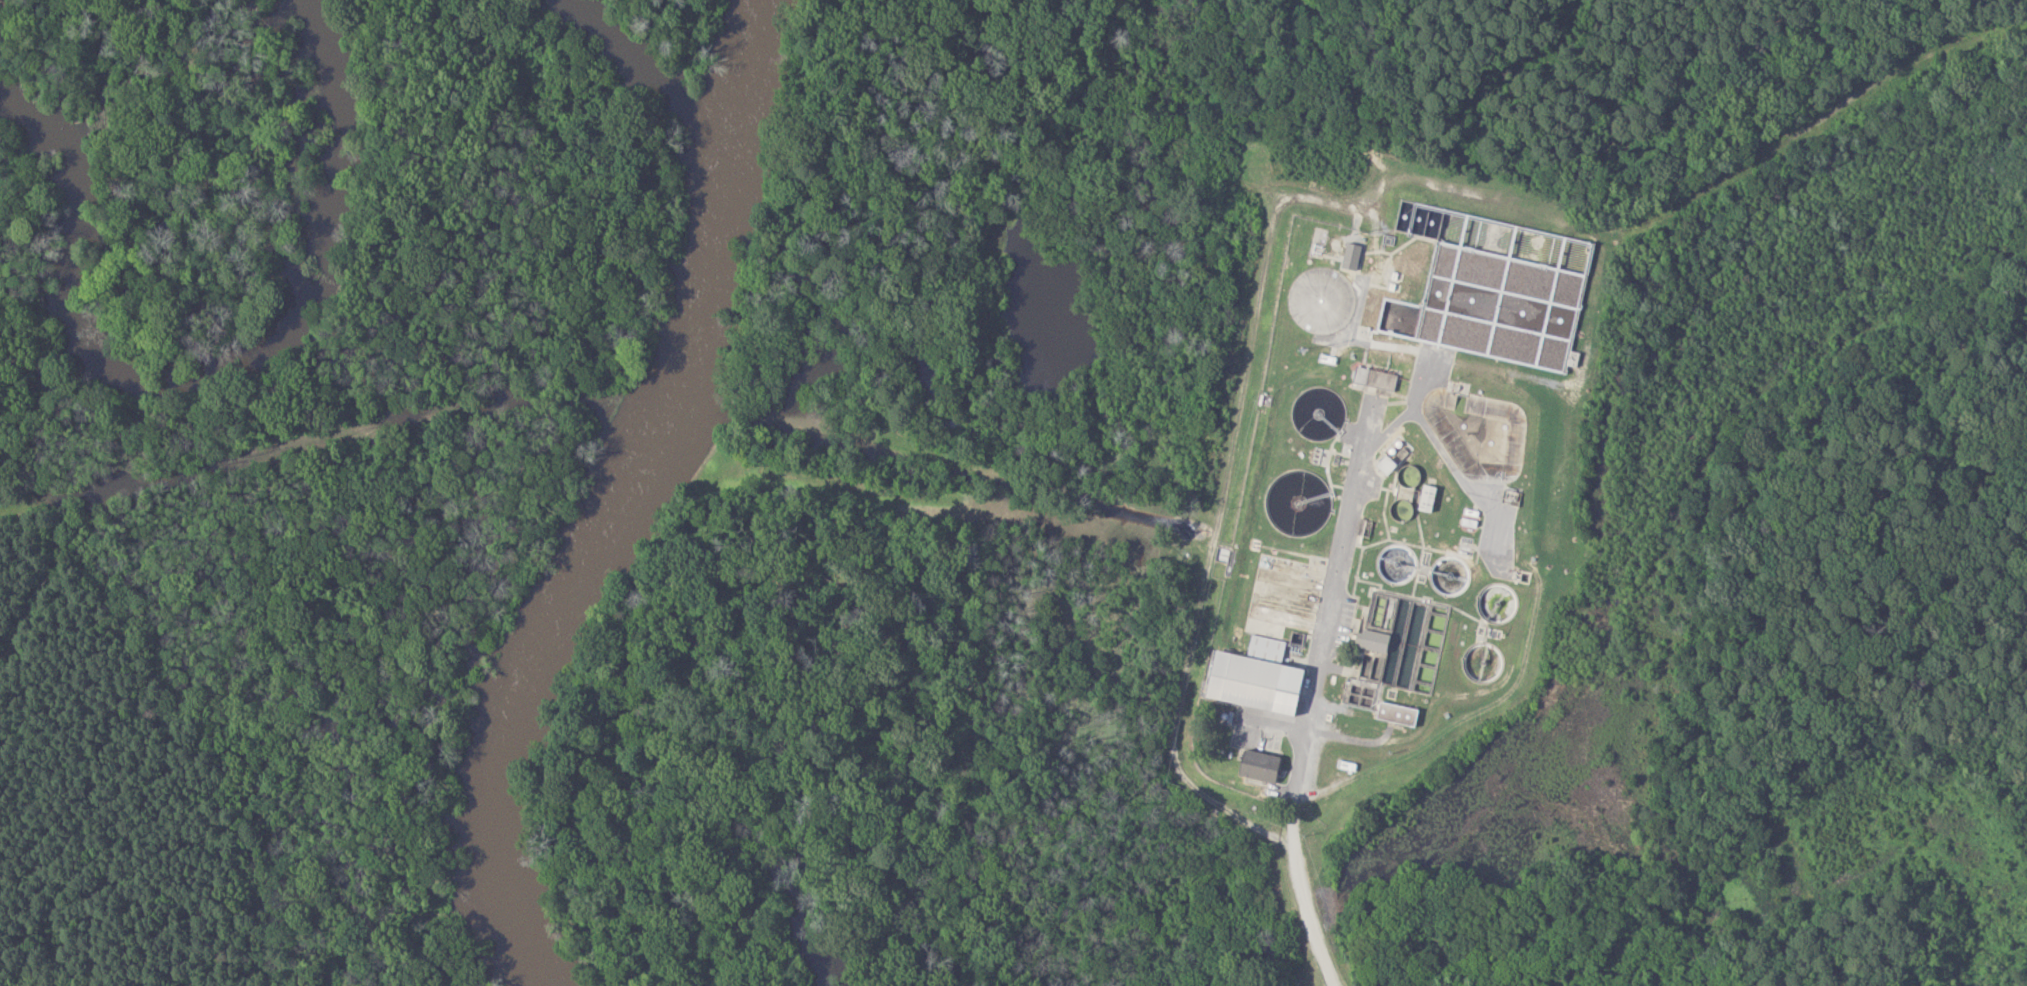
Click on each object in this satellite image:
river: (741, 45)
building: (1349, 255)
road: (1255, 313)
building: (1371, 379)
building: (1382, 463)
wastewater plant: (1373, 488)
building: (1423, 497)
river: (576, 532)
road: (1343, 548)
building: (1370, 640)
building: (1251, 676)
building: (1393, 713)
building: (1253, 765)
road: (1314, 912)

